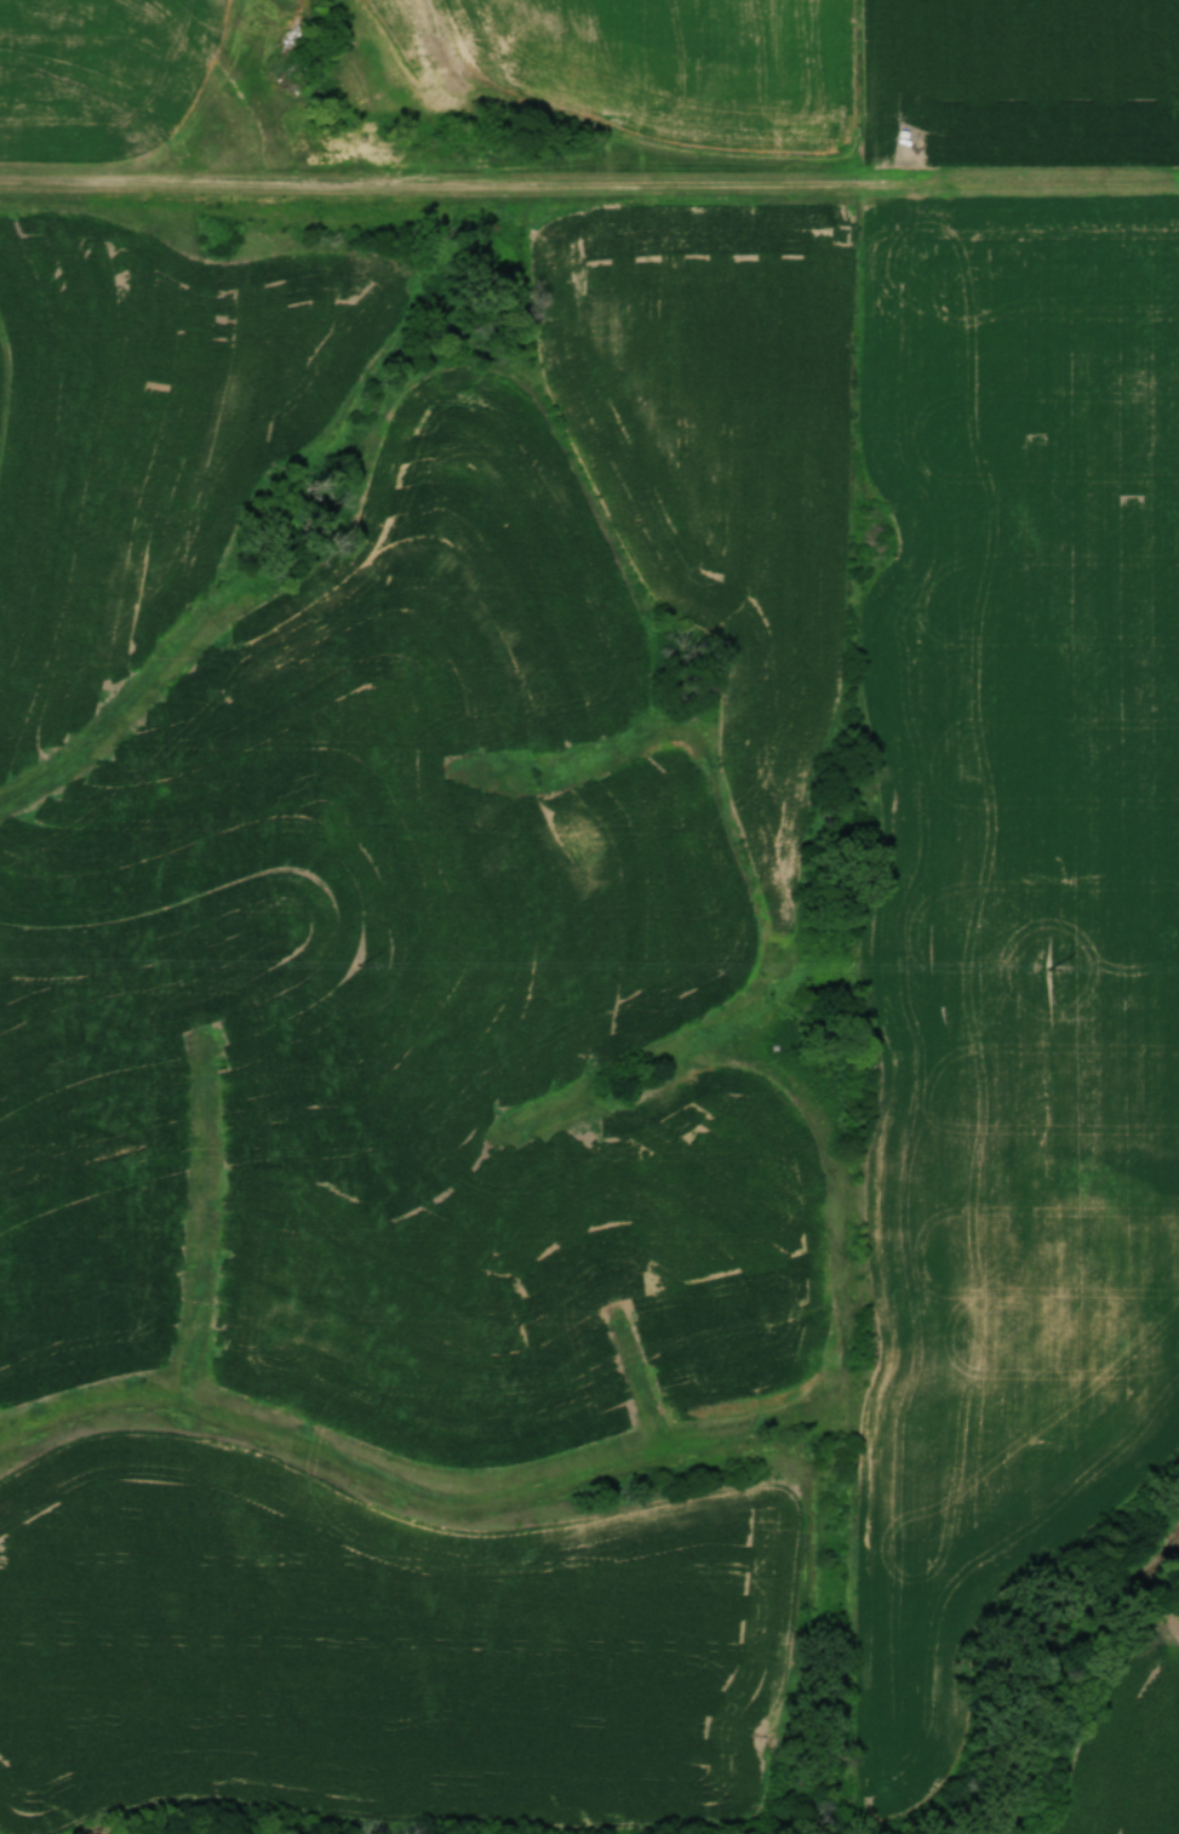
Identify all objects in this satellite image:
crop: (1024, 63)
crop: (1031, 884)

